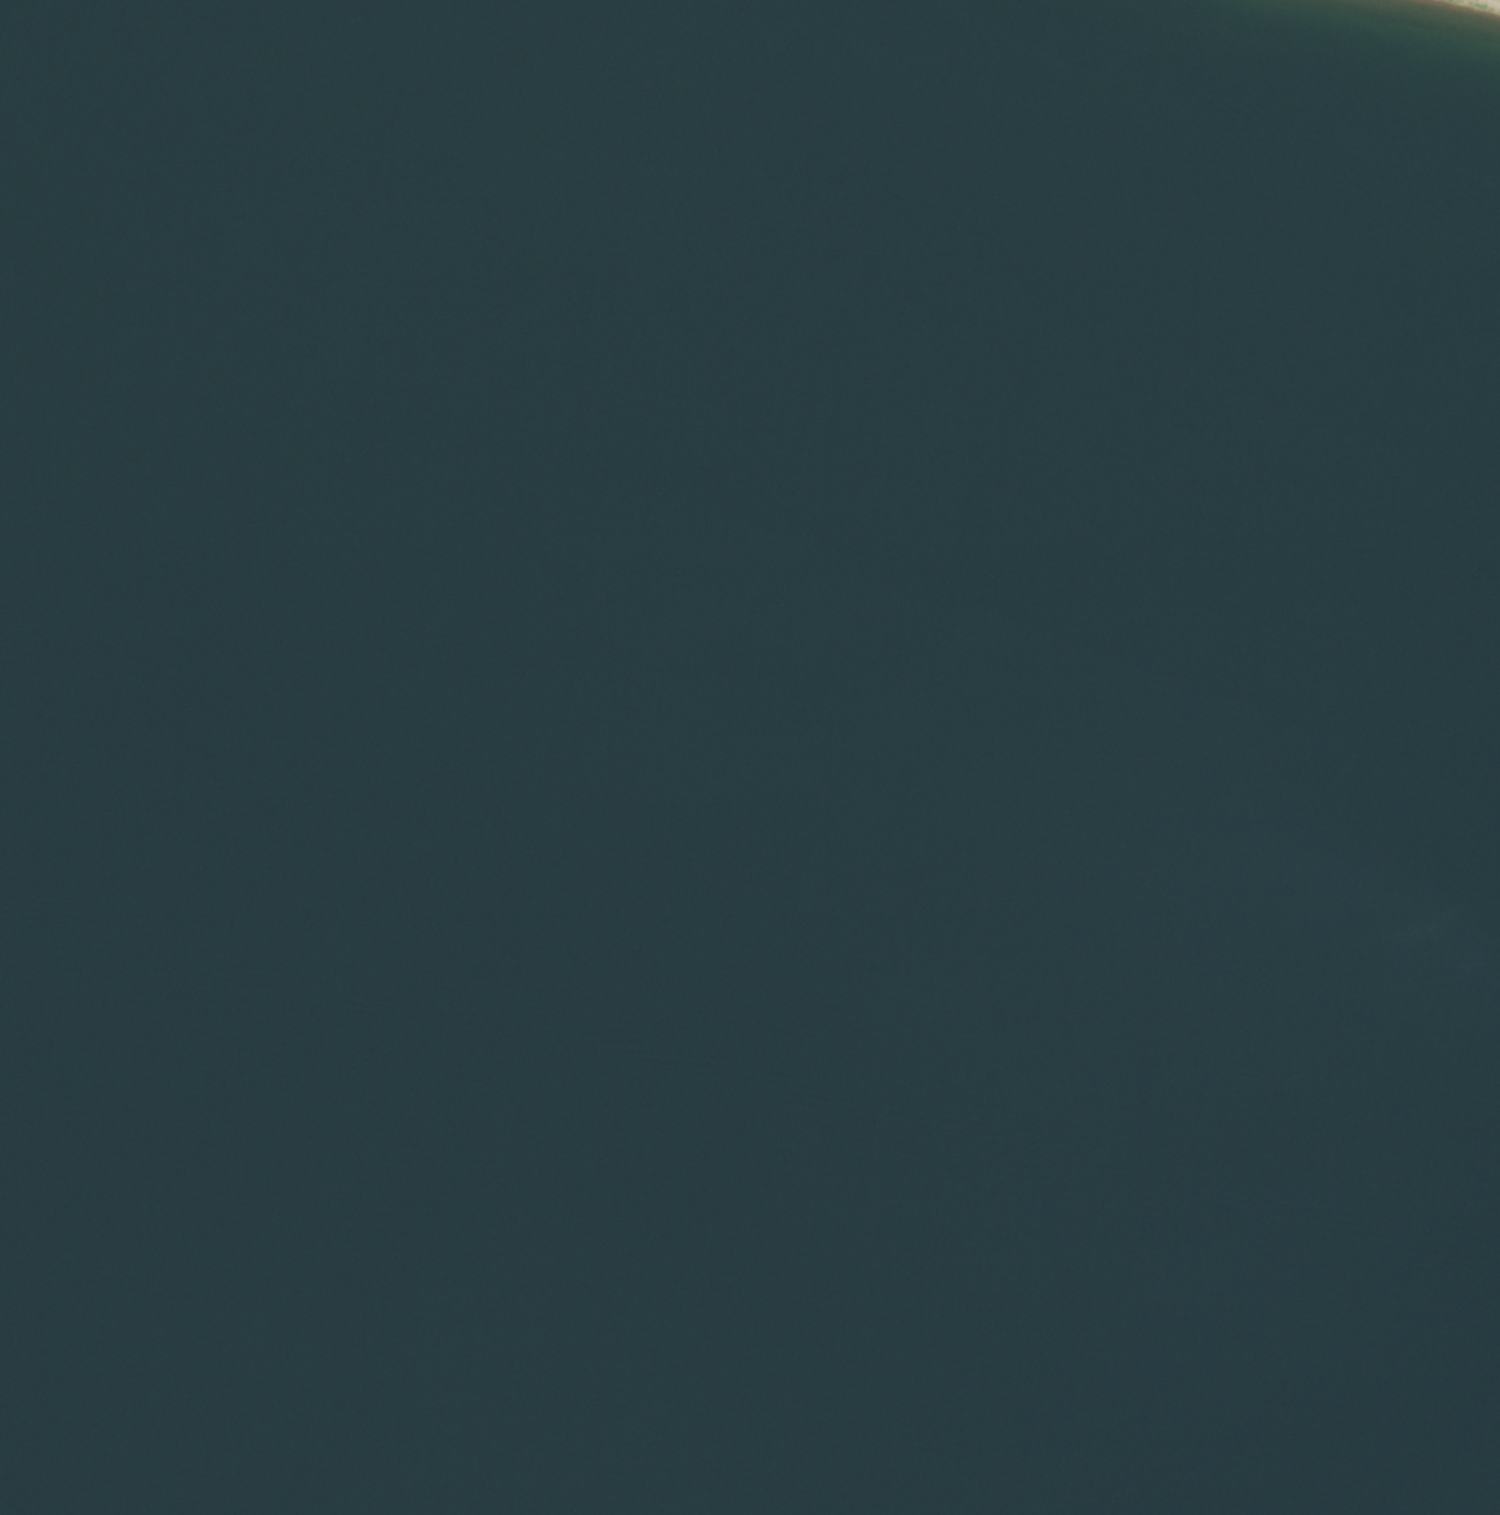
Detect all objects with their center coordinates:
river: (275, 1432)

